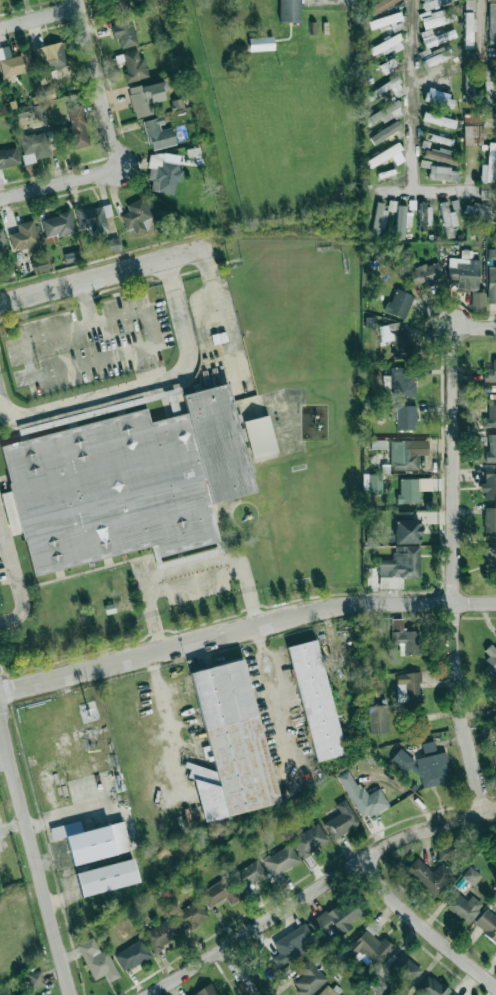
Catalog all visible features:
building: (434, 3)
building: (118, 4)
building: (381, 4)
building: (289, 11)
road: (39, 17)
building: (436, 17)
building: (385, 20)
building: (492, 22)
building: (469, 24)
road: (481, 29)
building: (124, 30)
building: (438, 38)
building: (261, 43)
building: (385, 46)
building: (434, 55)
building: (50, 56)
building: (13, 62)
building: (388, 64)
building: (134, 66)
road: (98, 83)
building: (468, 84)
building: (387, 88)
building: (488, 88)
building: (145, 97)
building: (439, 98)
building: (38, 109)
building: (382, 114)
road: (411, 117)
building: (472, 118)
building: (438, 119)
building: (489, 120)
building: (78, 126)
building: (158, 133)
building: (386, 133)
building: (471, 134)
building: (438, 139)
building: (36, 145)
building: (440, 155)
building: (8, 156)
building: (386, 156)
building: (489, 165)
building: (440, 171)
building: (163, 172)
road: (60, 183)
building: (487, 194)
building: (391, 205)
building: (411, 205)
building: (478, 211)
building: (426, 214)
building: (448, 215)
building: (137, 216)
building: (93, 217)
building: (378, 218)
building: (401, 221)
building: (57, 224)
building: (24, 236)
building: (2, 239)
building: (111, 245)
building: (39, 264)
building: (464, 272)
road: (108, 274)
building: (423, 275)
building: (491, 283)
road: (86, 302)
building: (399, 303)
road: (221, 316)
building: (395, 338)
road: (155, 345)
parking lot: (92, 347)
building: (490, 372)
building: (401, 381)
road: (144, 383)
building: (491, 411)
building: (405, 417)
building: (260, 435)
building: (491, 447)
building: (406, 453)
building: (126, 477)
building: (373, 483)
building: (489, 483)
building: (407, 490)
building: (489, 518)
building: (407, 527)
road: (455, 548)
building: (491, 556)
building: (400, 562)
road: (192, 575)
road: (15, 576)
road: (245, 630)
building: (405, 637)
building: (490, 659)
building: (411, 687)
road: (283, 698)
building: (315, 699)
building: (377, 718)
road: (169, 726)
building: (230, 743)
building: (494, 757)
building: (402, 760)
building: (433, 766)
building: (363, 797)
road: (71, 813)
building: (341, 820)
road: (13, 823)
building: (309, 840)
building: (92, 841)
building: (445, 853)
road: (36, 860)
building: (281, 860)
building: (249, 876)
building: (430, 876)
building: (106, 877)
road: (319, 890)
building: (220, 893)
building: (463, 906)
building: (190, 916)
building: (338, 916)
building: (487, 924)
road: (425, 928)
building: (160, 934)
building: (293, 944)
building: (369, 946)
building: (132, 955)
building: (97, 961)
building: (403, 968)
road: (243, 973)
building: (309, 976)
building: (35, 979)
building: (431, 987)
building: (206, 990)
building: (330, 991)
building: (23, 993)
building: (454, 994)

